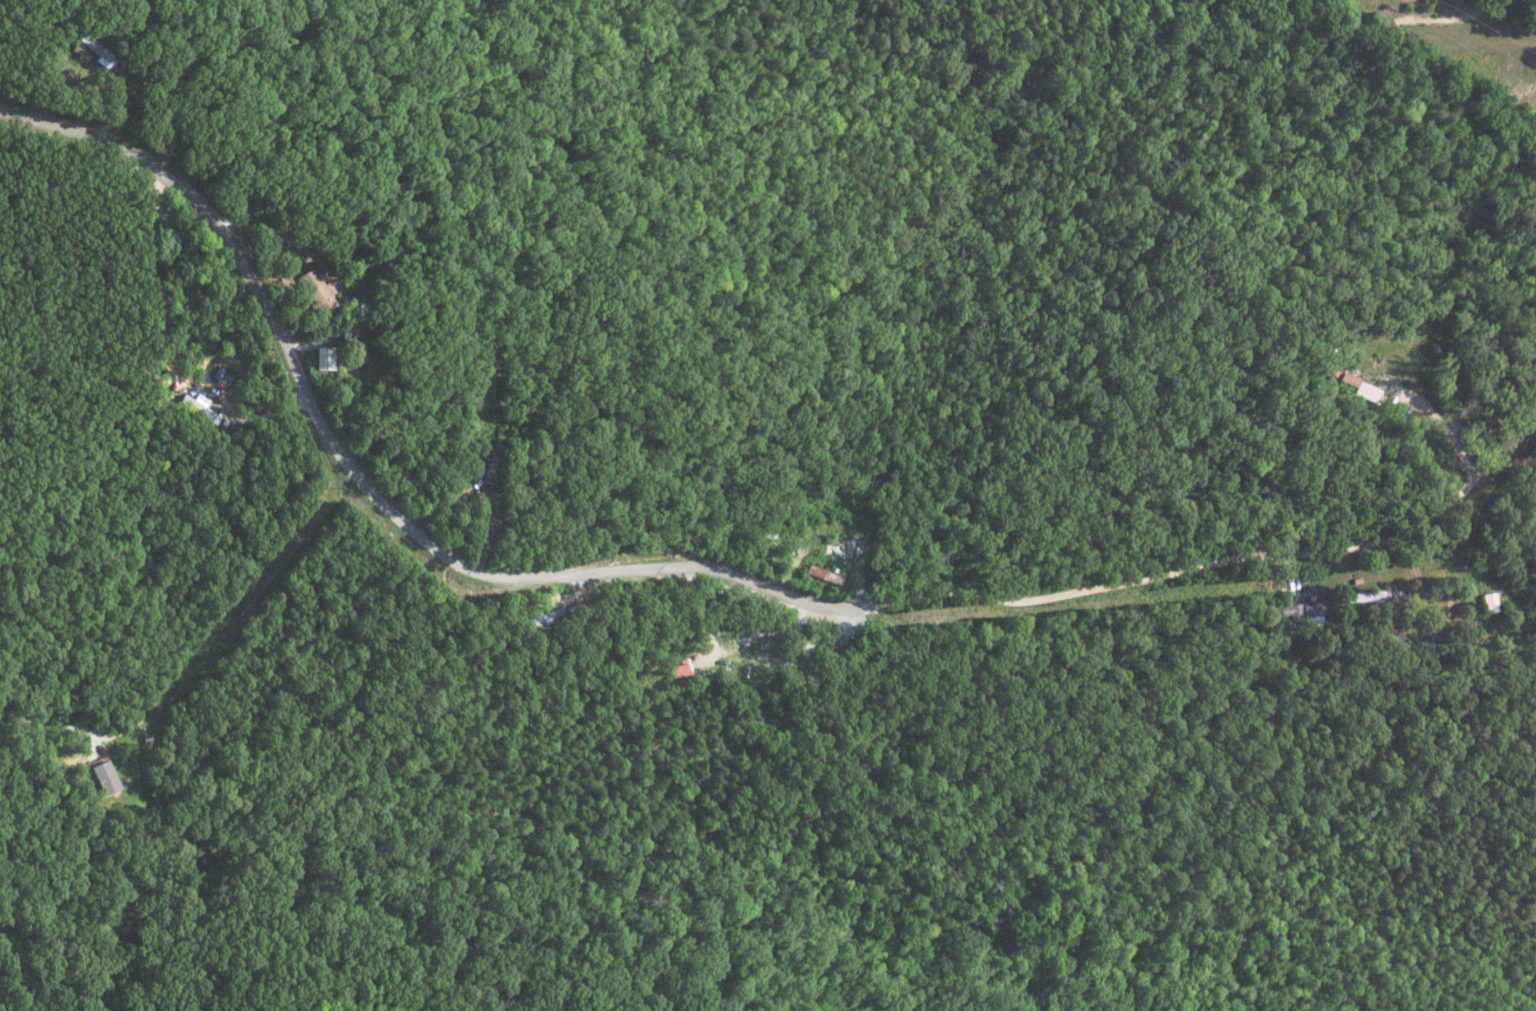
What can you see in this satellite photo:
building: (96, 51)
building: (316, 290)
building: (323, 357)
building: (1362, 386)
building: (197, 406)
road: (1444, 427)
road: (1511, 440)
road: (655, 569)
building: (1363, 596)
building: (1488, 602)
building: (678, 667)
building: (102, 777)

